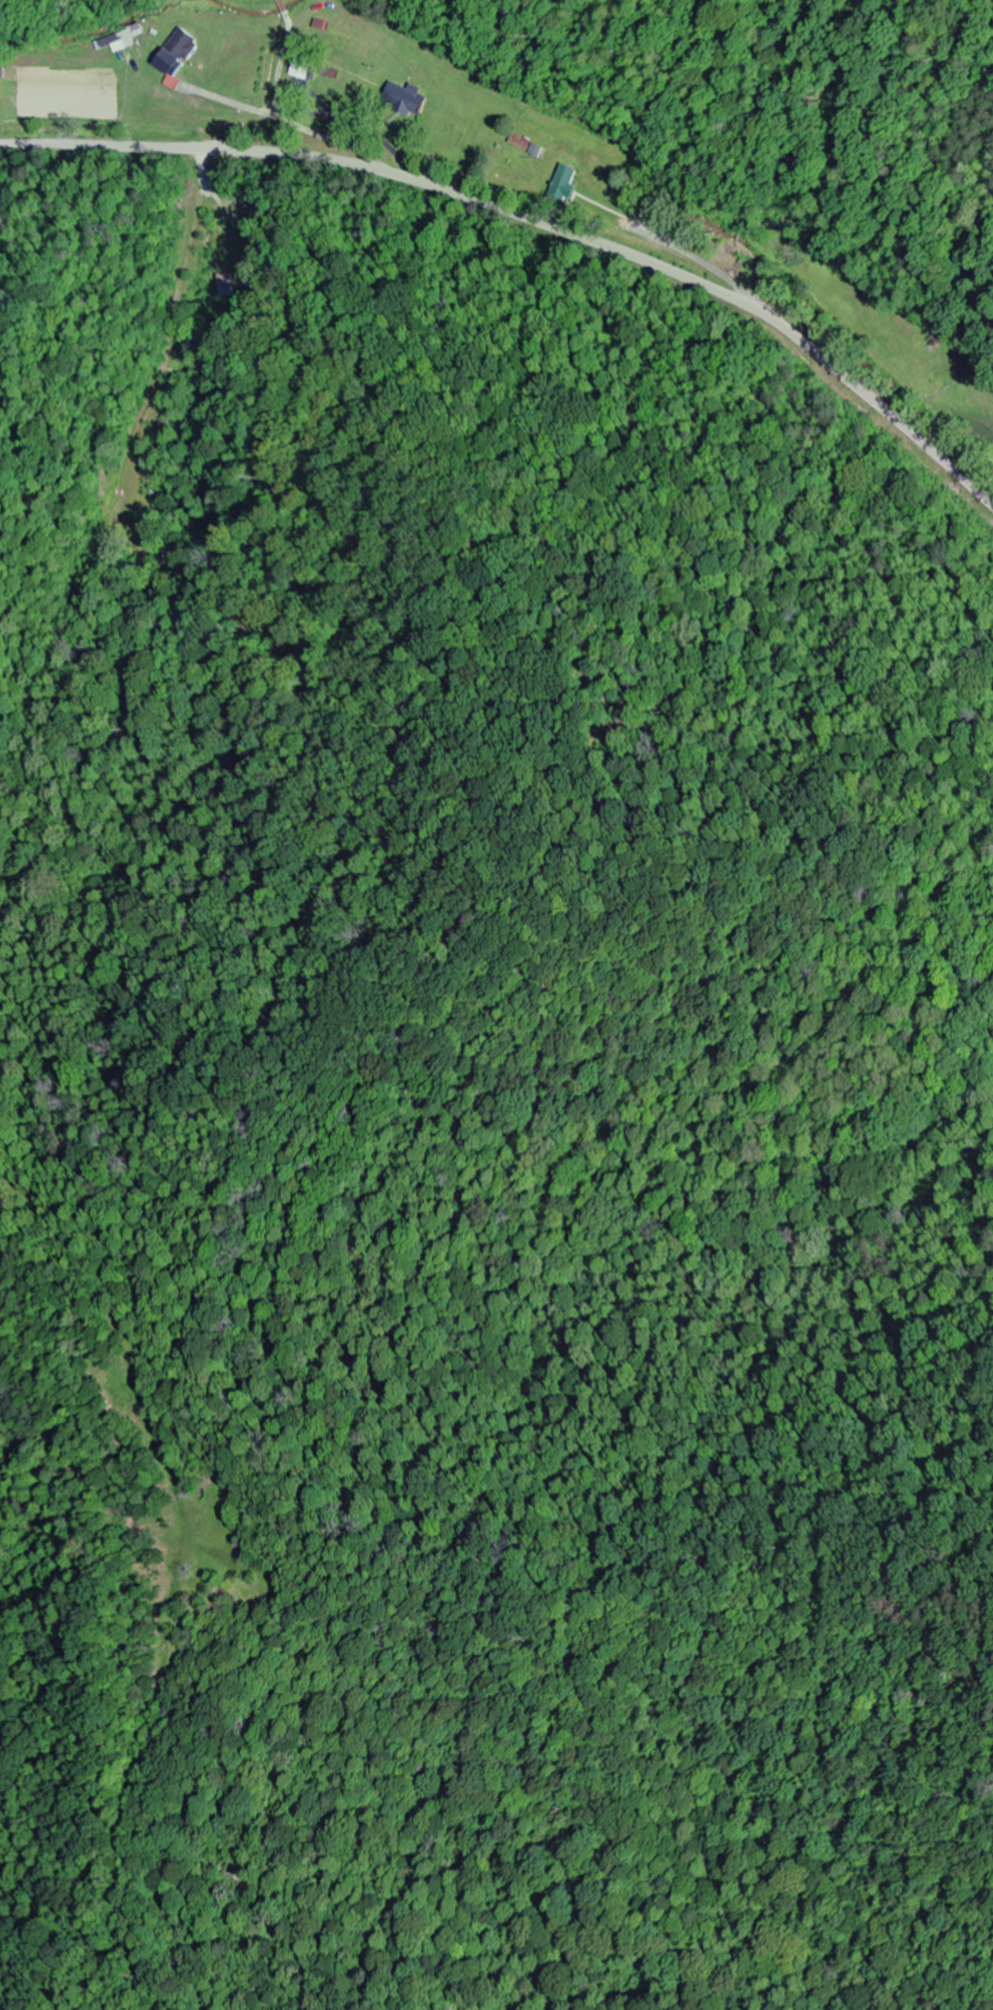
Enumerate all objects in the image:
building: (122, 39)
building: (178, 52)
building: (301, 68)
building: (407, 98)
building: (527, 145)
building: (565, 183)
road: (536, 222)

